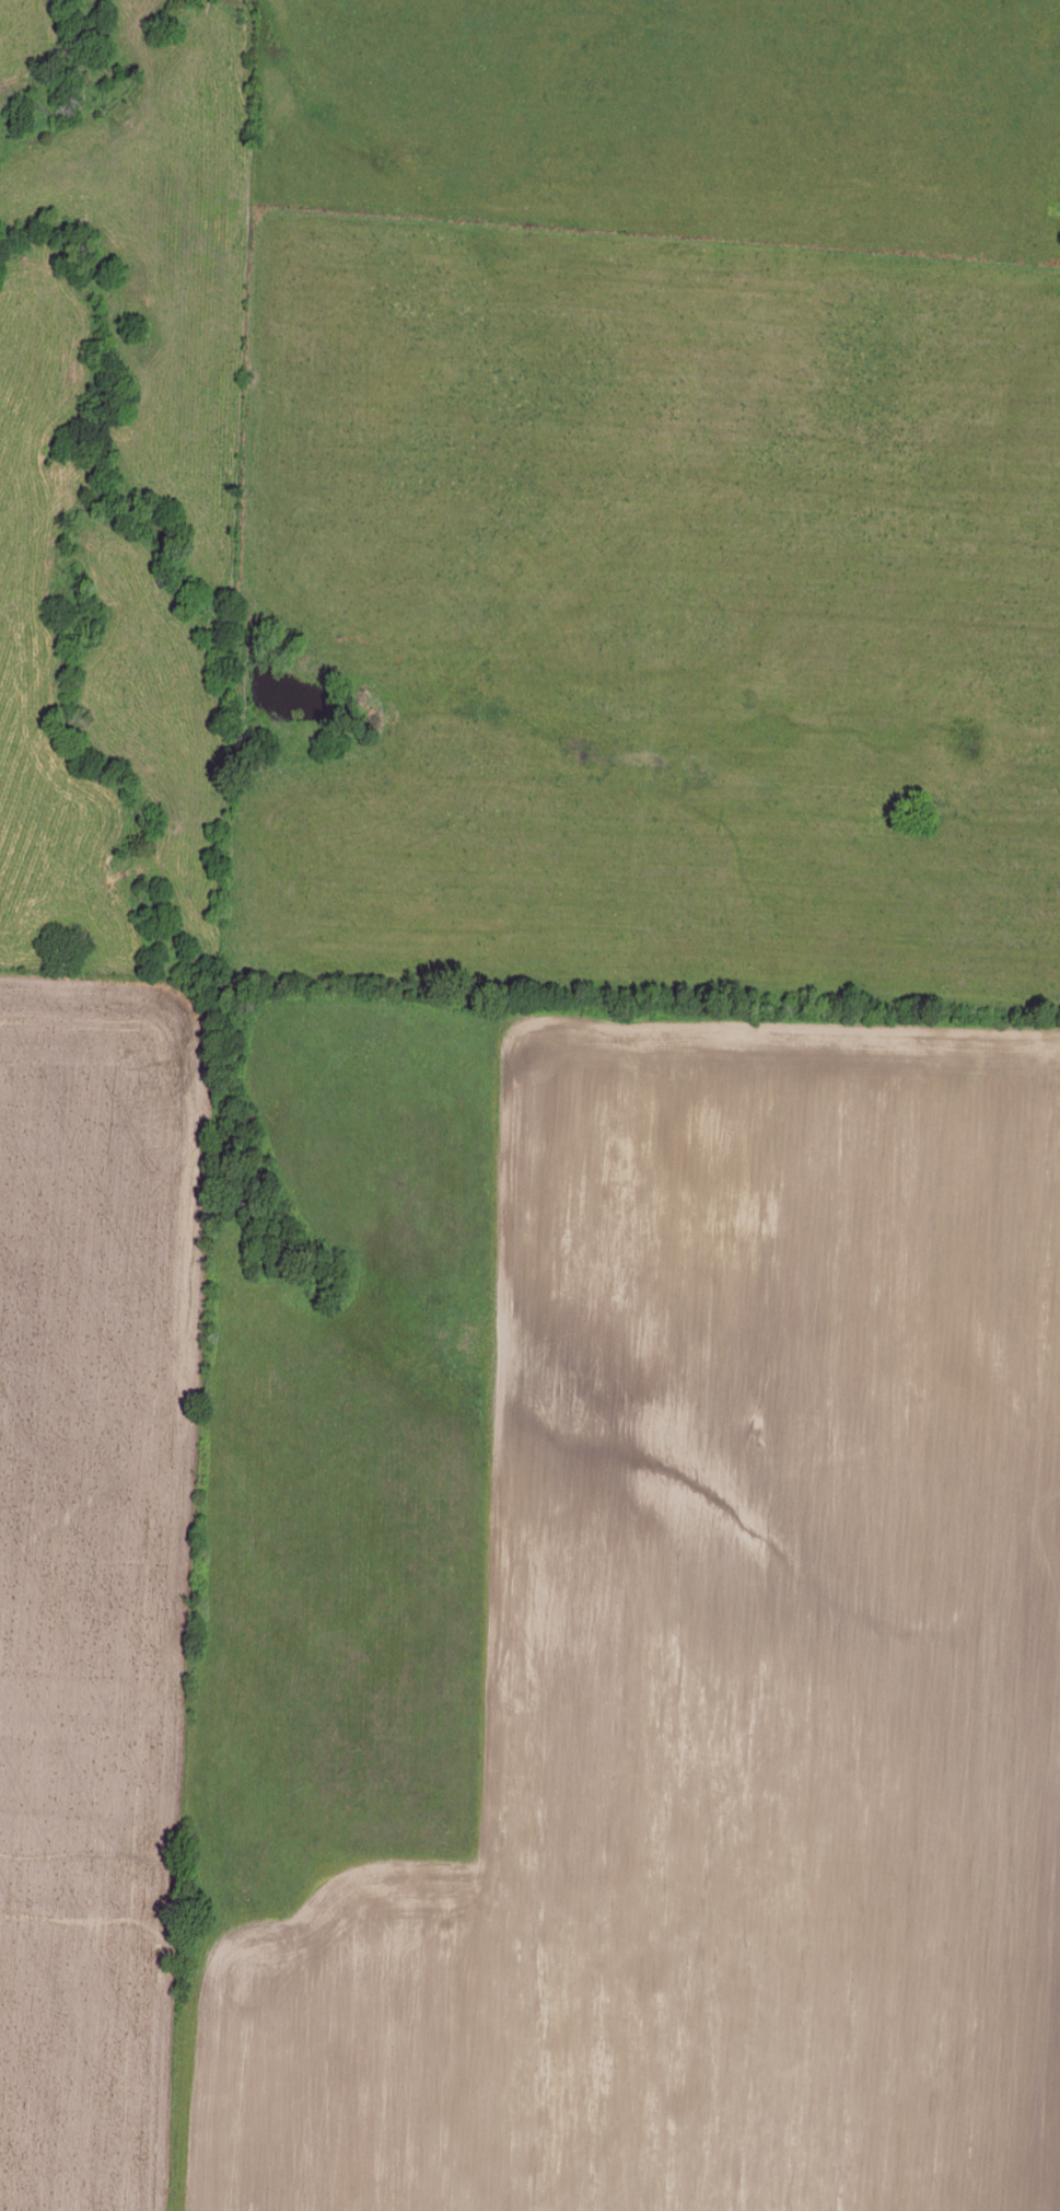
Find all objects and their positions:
road: (186, 2068)

